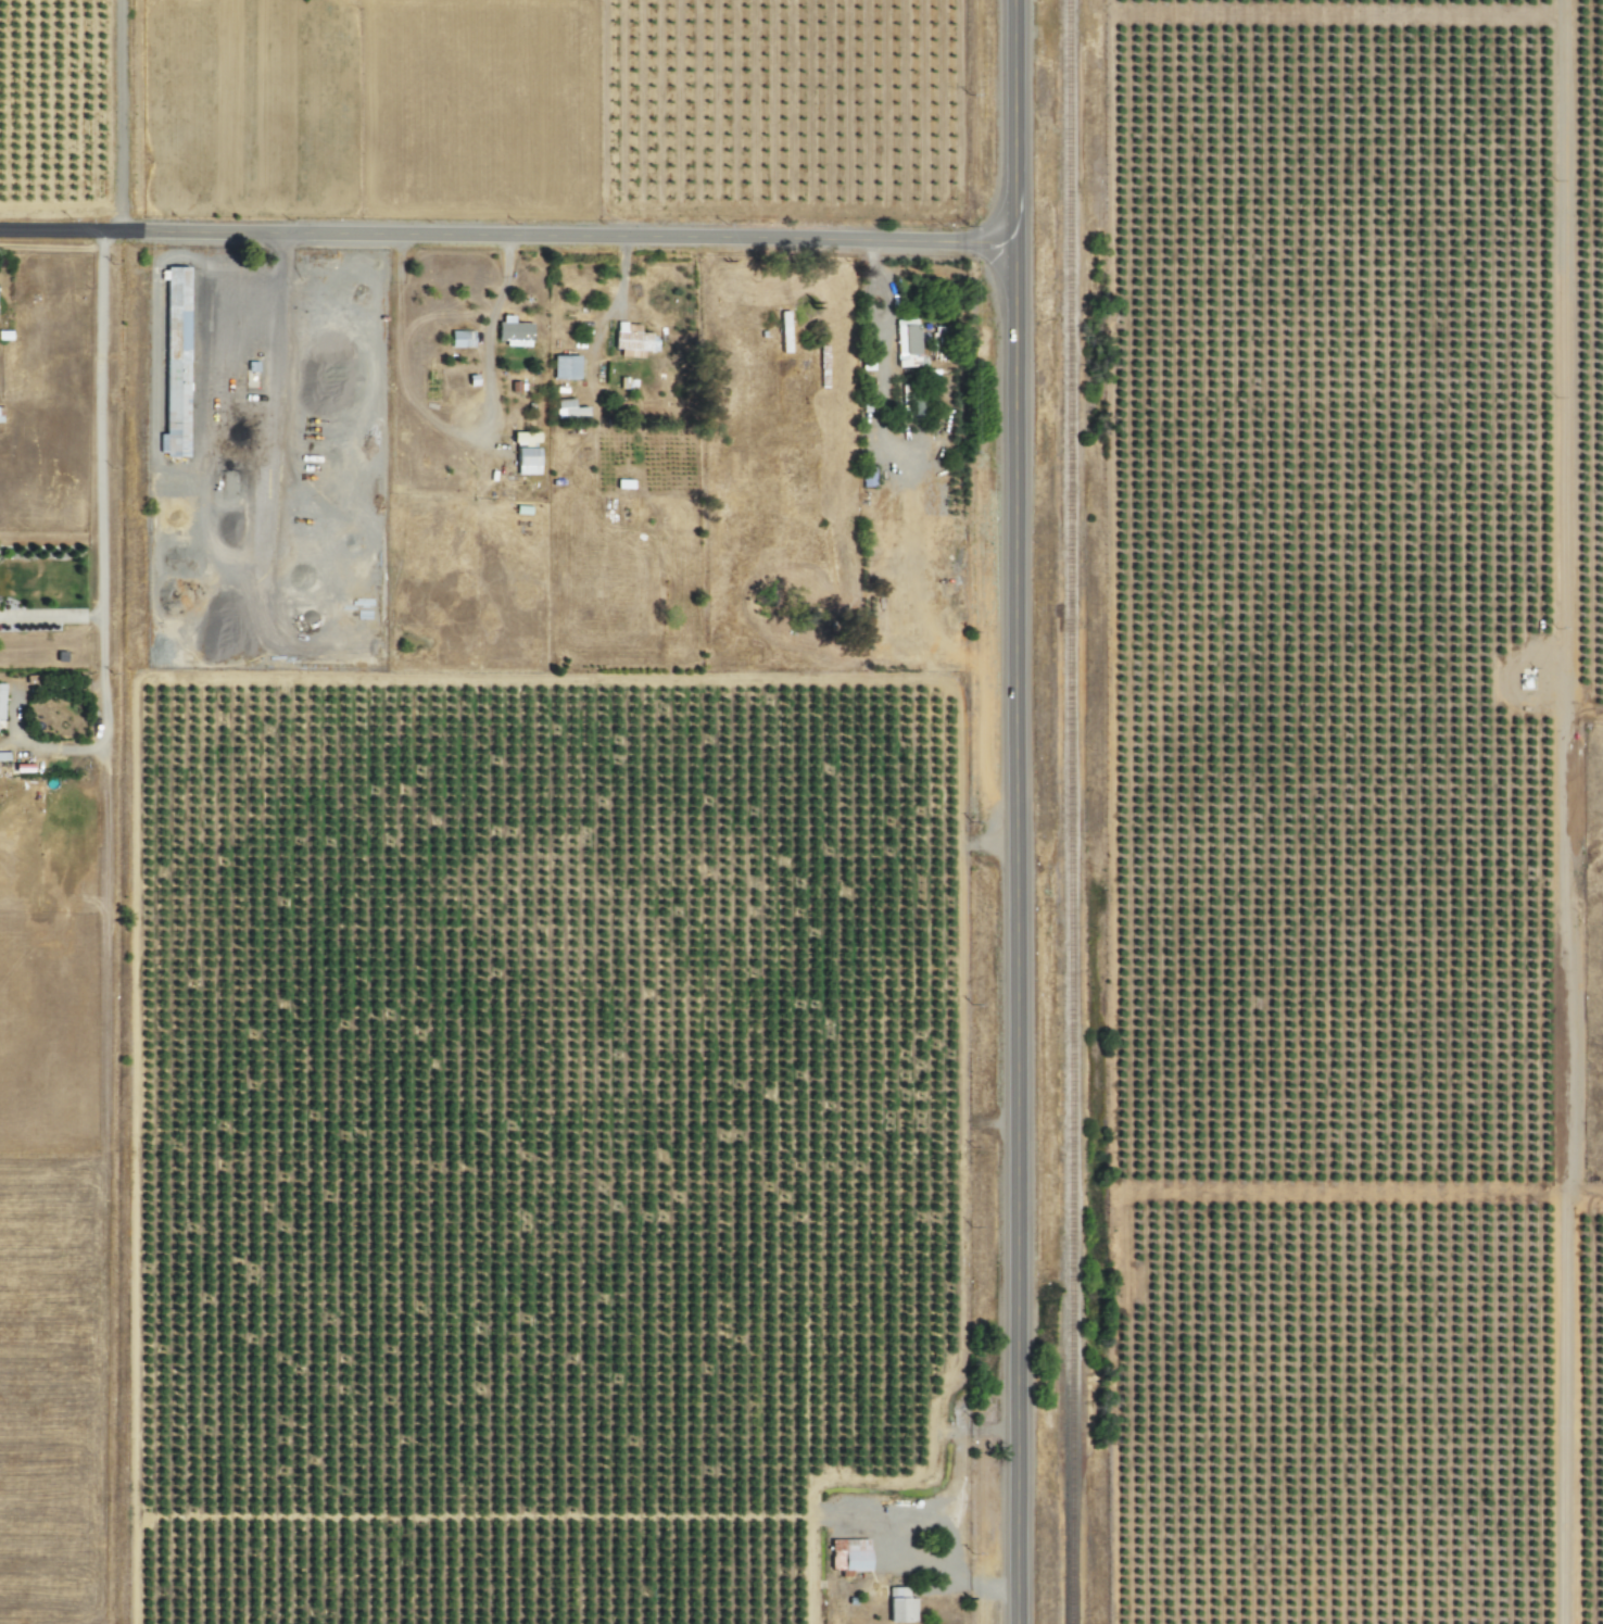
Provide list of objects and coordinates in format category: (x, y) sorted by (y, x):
road: (117, 114)
road: (506, 235)
building: (781, 319)
building: (509, 331)
building: (458, 339)
building: (629, 341)
building: (904, 343)
building: (172, 364)
building: (563, 367)
building: (565, 410)
building: (521, 439)
building: (523, 461)
road: (98, 531)
road: (50, 618)
building: (2, 756)
road: (1012, 811)
railway: (1068, 811)
building: (846, 1556)
building: (897, 1606)

